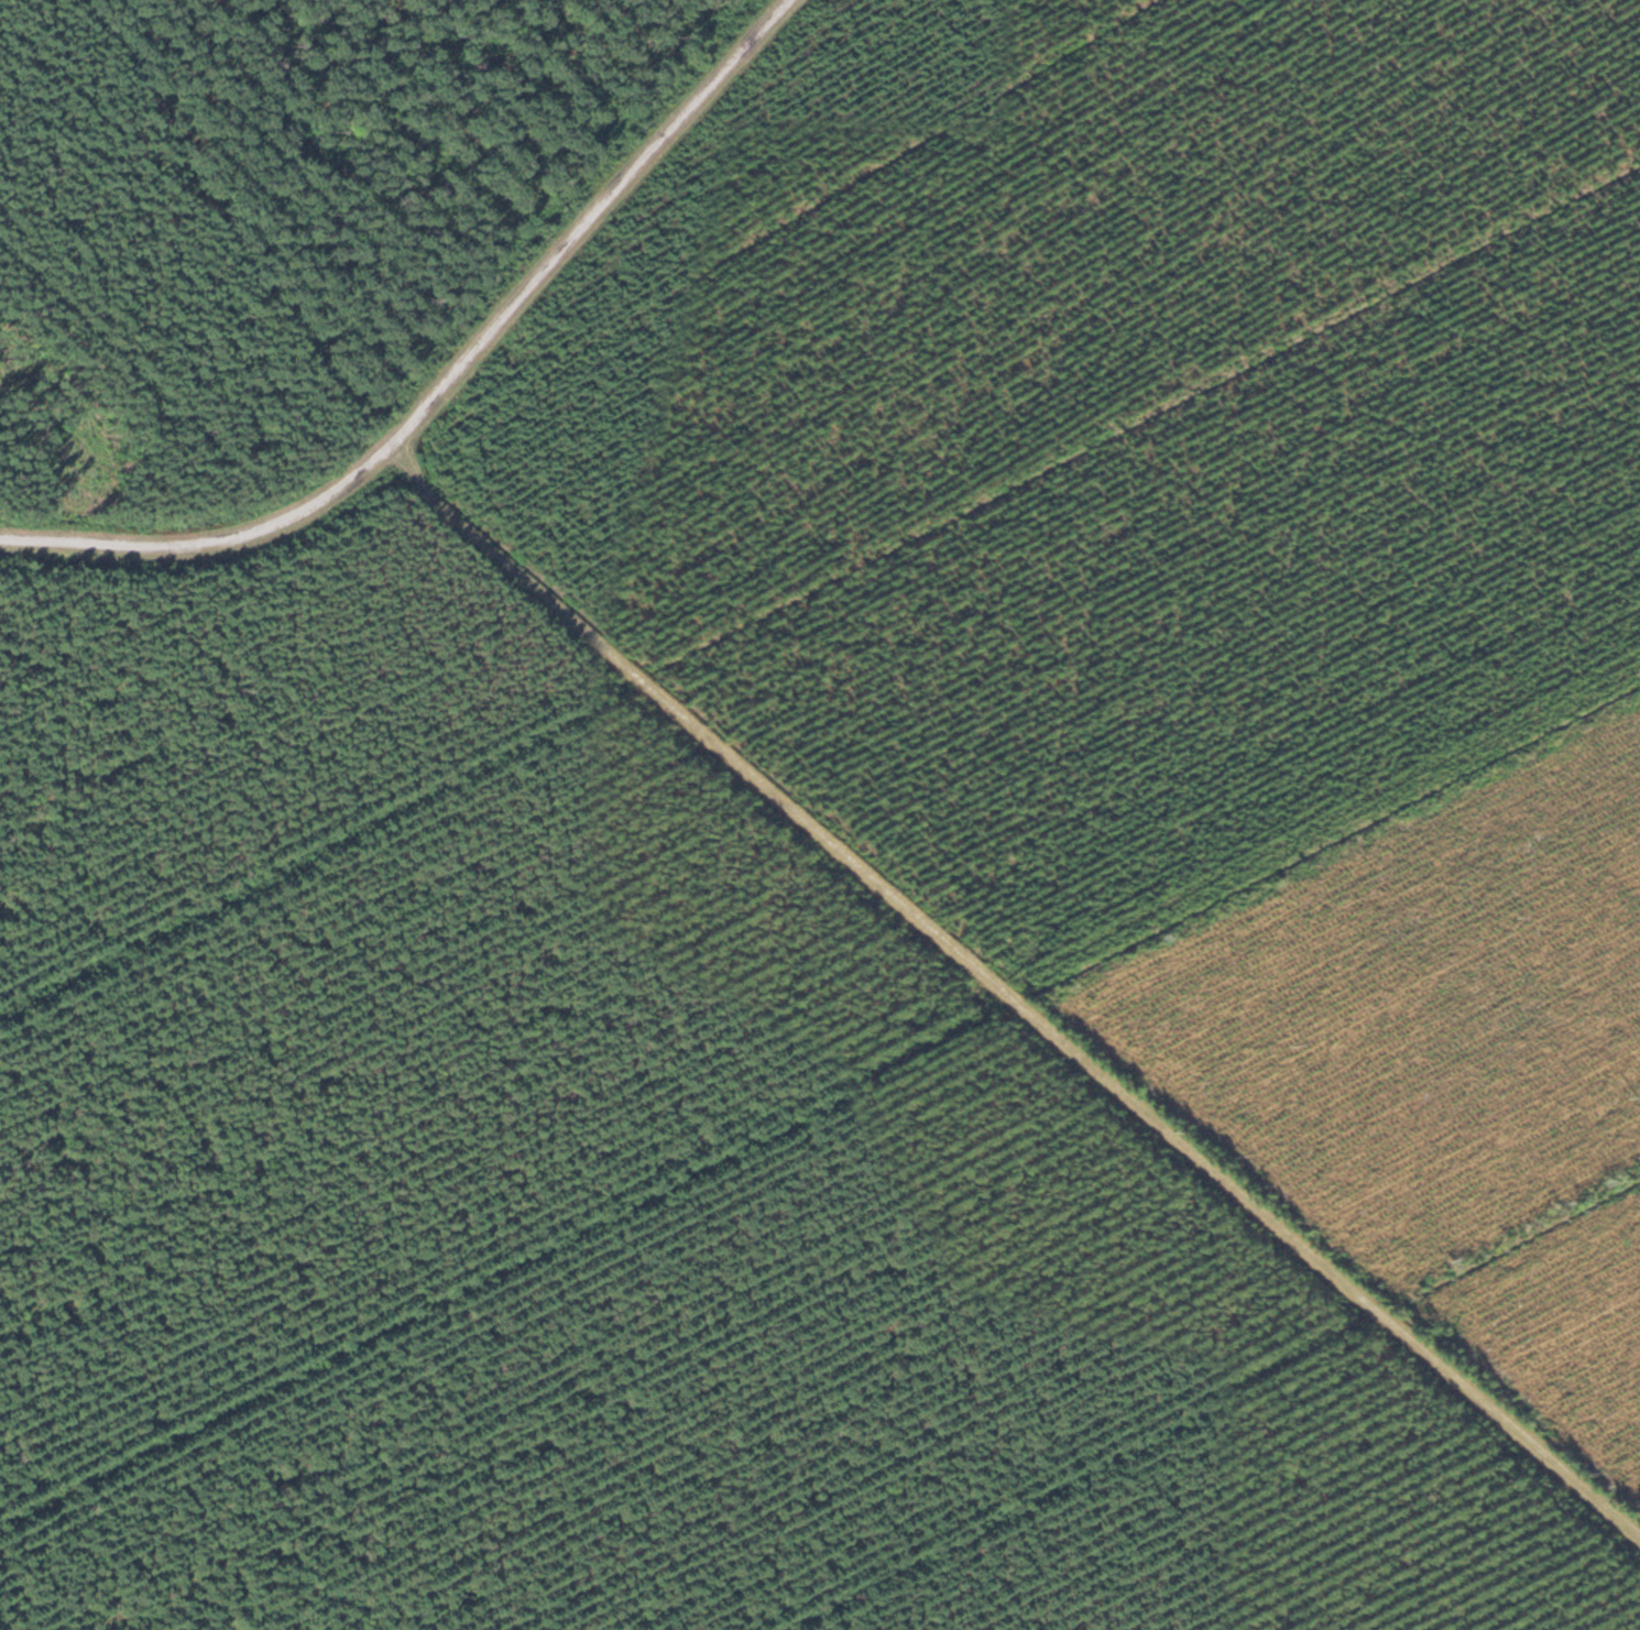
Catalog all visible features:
road: (452, 378)

